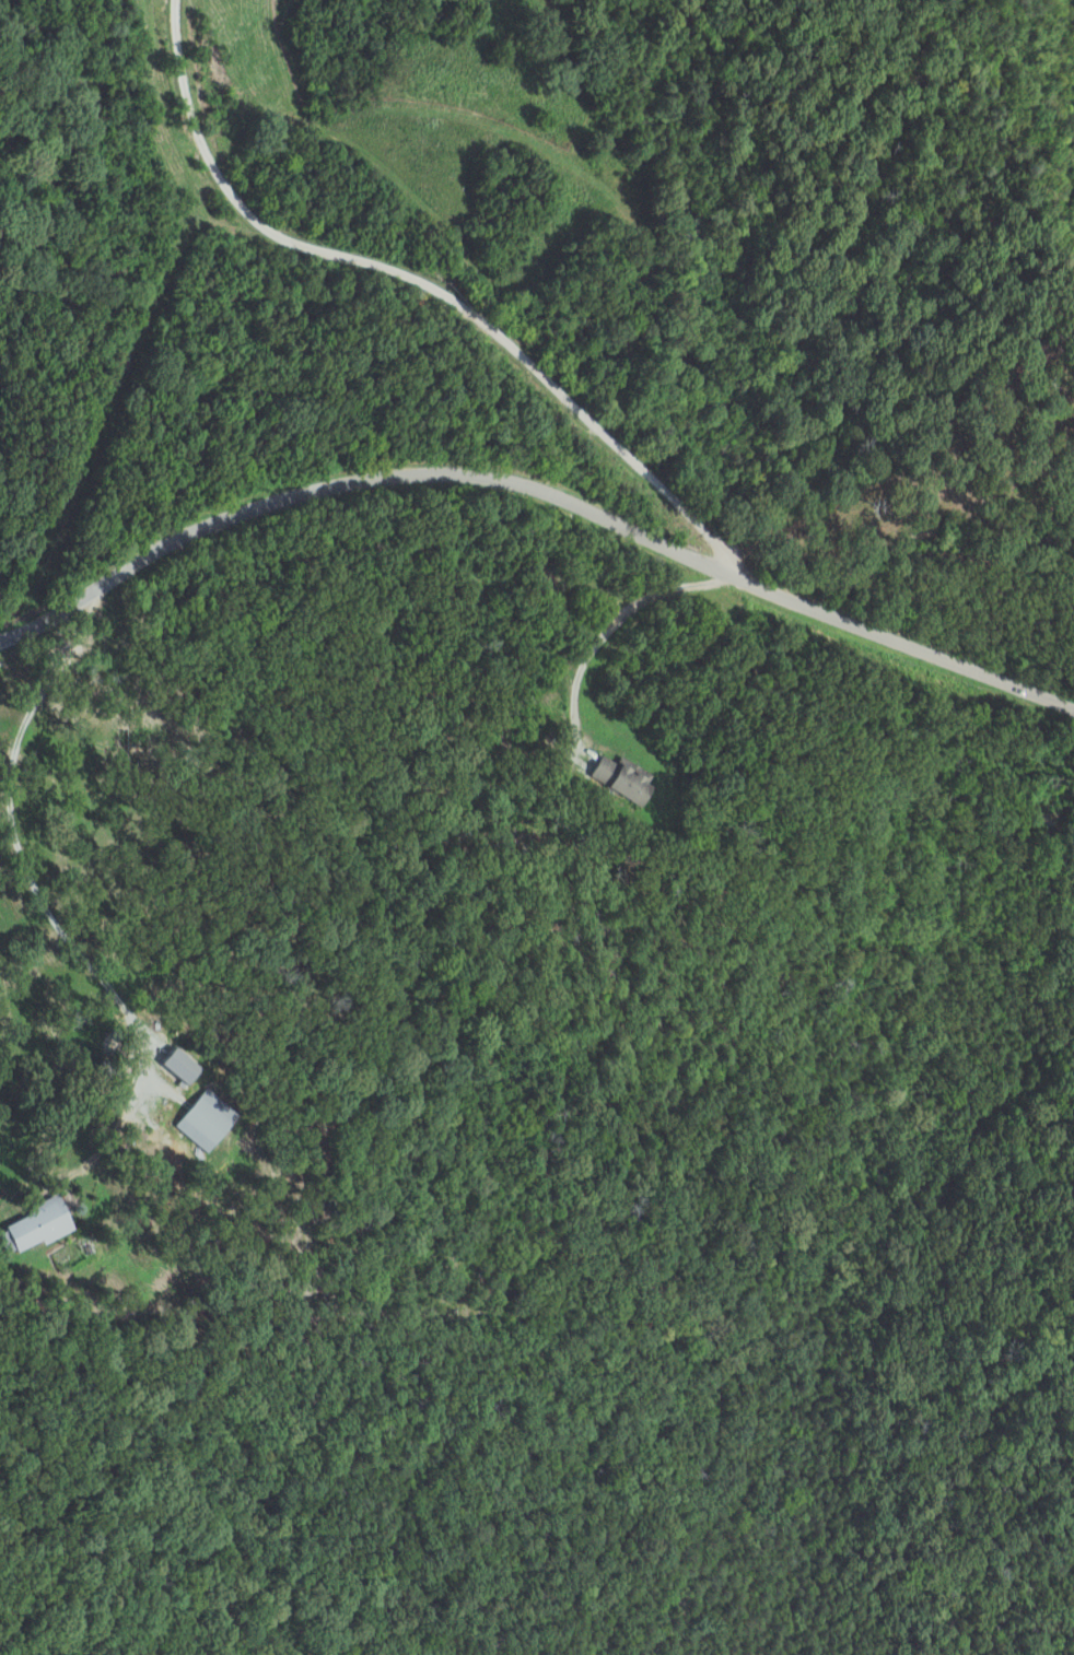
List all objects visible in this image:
road: (418, 285)
road: (537, 494)
road: (607, 630)
building: (626, 778)
building: (183, 1065)
building: (208, 1120)
building: (42, 1225)

